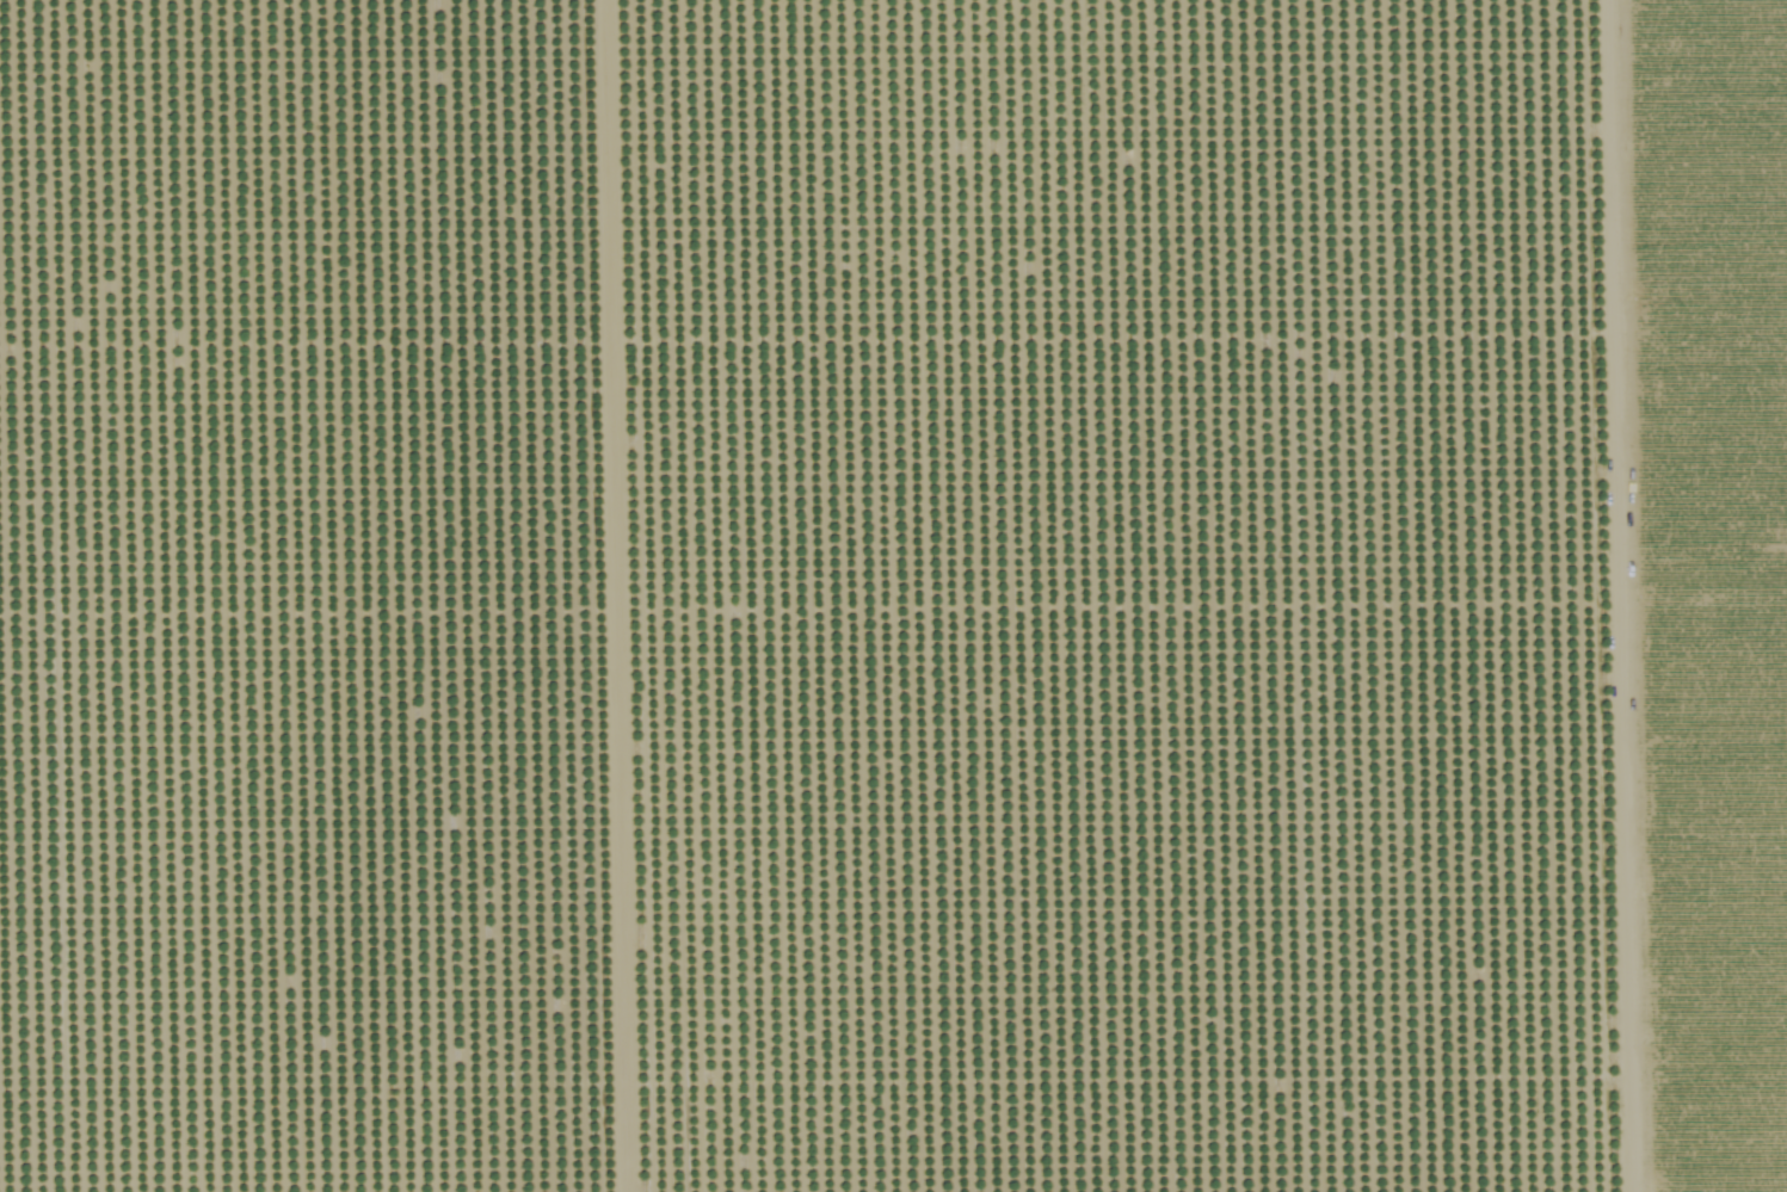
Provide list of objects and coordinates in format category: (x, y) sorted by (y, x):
crop: (893, 595)

